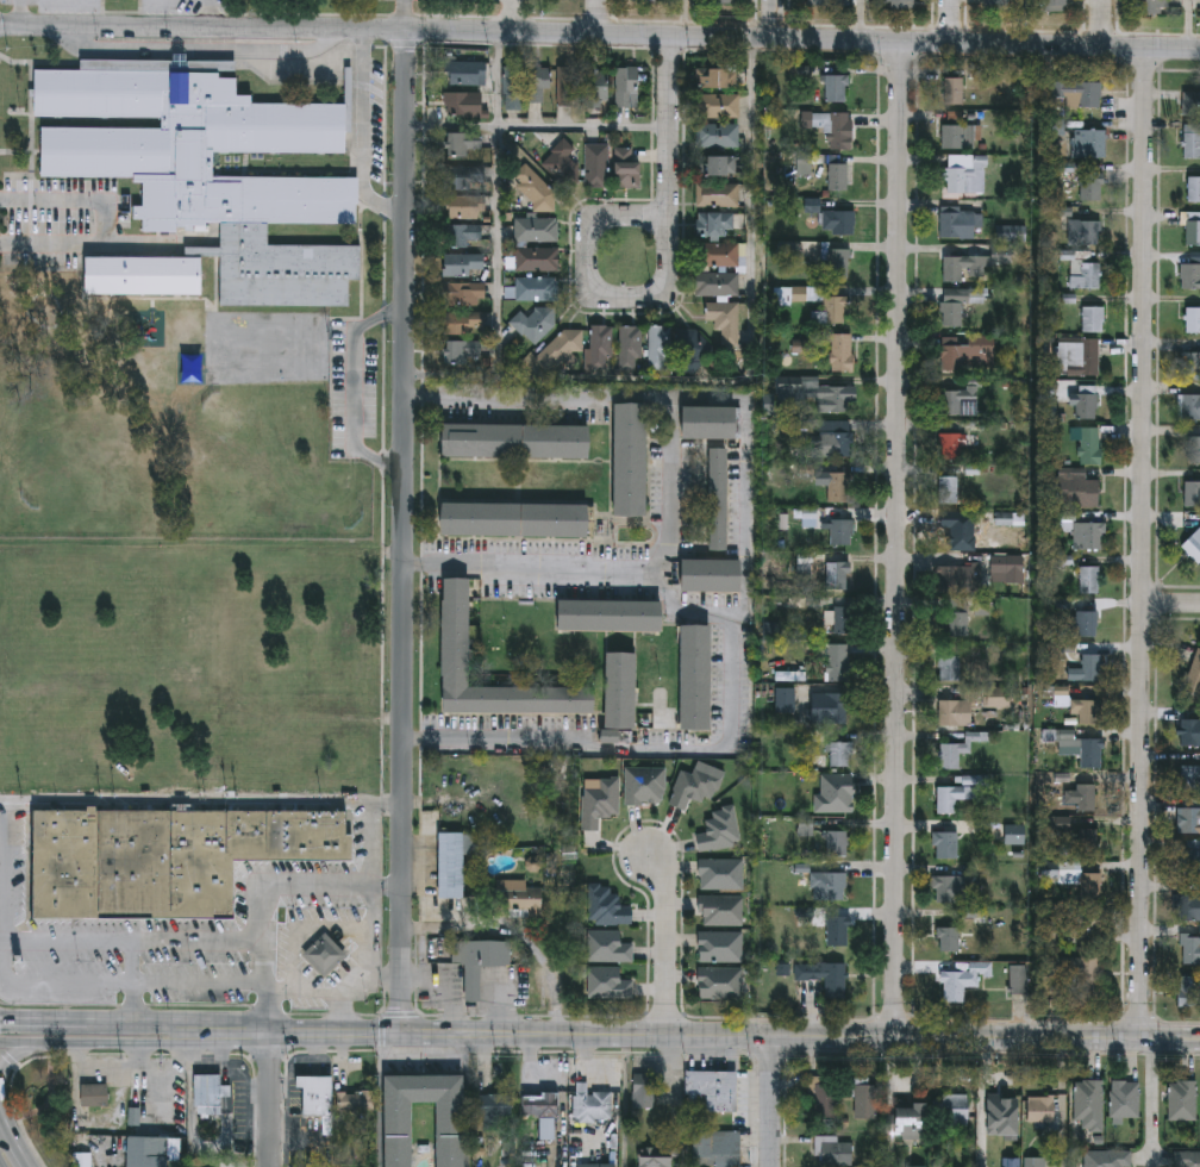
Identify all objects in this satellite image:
building: (650, 0)
building: (719, 1)
building: (821, 2)
building: (899, 2)
building: (995, 5)
building: (1054, 5)
building: (1149, 7)
road: (21, 12)
road: (405, 15)
road: (512, 17)
road: (595, 17)
road: (774, 18)
road: (861, 19)
road: (952, 20)
road: (1102, 23)
road: (1188, 24)
road: (600, 35)
building: (289, 69)
building: (467, 73)
building: (714, 77)
building: (538, 82)
building: (625, 85)
building: (567, 86)
building: (512, 87)
building: (598, 87)
building: (838, 88)
building: (955, 91)
building: (1080, 93)
building: (465, 105)
building: (719, 105)
building: (1190, 105)
road: (538, 127)
building: (835, 129)
road: (363, 136)
building: (962, 137)
building: (1192, 141)
building: (462, 143)
building: (1090, 144)
building: (598, 166)
building: (720, 166)
building: (626, 168)
building: (968, 174)
building: (839, 176)
building: (204, 177)
building: (468, 177)
building: (1093, 187)
building: (1194, 189)
building: (718, 194)
building: (464, 207)
road: (496, 212)
building: (839, 221)
road: (107, 224)
building: (717, 224)
building: (961, 224)
building: (537, 229)
building: (1192, 229)
building: (1086, 233)
building: (463, 235)
building: (717, 254)
building: (537, 258)
building: (839, 263)
building: (464, 264)
building: (975, 264)
road: (667, 270)
building: (1088, 276)
building: (1190, 276)
building: (715, 283)
building: (536, 288)
building: (465, 293)
building: (960, 305)
building: (832, 306)
building: (1094, 319)
building: (1193, 319)
building: (463, 322)
building: (725, 322)
building: (536, 323)
building: (692, 345)
building: (602, 348)
building: (631, 348)
building: (660, 348)
building: (463, 352)
building: (843, 352)
building: (969, 355)
building: (1083, 357)
building: (1190, 364)
road: (748, 377)
road: (354, 392)
building: (836, 398)
building: (960, 400)
building: (1088, 404)
building: (1189, 408)
building: (711, 425)
building: (835, 437)
building: (515, 443)
building: (1092, 447)
building: (952, 448)
building: (1194, 451)
building: (630, 461)
road: (745, 472)
building: (839, 487)
building: (949, 491)
building: (1080, 491)
building: (1192, 494)
building: (718, 501)
building: (812, 519)
building: (1010, 519)
building: (515, 520)
building: (842, 531)
road: (405, 532)
building: (963, 535)
building: (1090, 535)
road: (900, 539)
road: (1144, 543)
building: (1193, 545)
road: (537, 563)
building: (1008, 568)
building: (824, 573)
building: (712, 575)
building: (1089, 578)
building: (957, 579)
road: (1171, 603)
road: (687, 611)
building: (610, 616)
building: (957, 616)
building: (839, 618)
building: (1086, 623)
building: (456, 632)
building: (837, 662)
building: (950, 667)
building: (1087, 668)
building: (1193, 676)
building: (695, 678)
building: (620, 691)
building: (1000, 695)
building: (829, 707)
building: (1088, 711)
building: (955, 712)
building: (1189, 730)
building: (958, 750)
building: (1083, 753)
building: (840, 754)
building: (1192, 776)
building: (646, 786)
building: (695, 787)
building: (836, 793)
building: (954, 795)
building: (1087, 795)
building: (600, 800)
road: (201, 805)
building: (1190, 820)
building: (1063, 825)
building: (721, 830)
building: (1014, 834)
building: (1089, 837)
building: (837, 843)
building: (946, 844)
building: (1190, 857)
building: (167, 860)
building: (450, 865)
road: (5, 873)
building: (723, 874)
building: (829, 886)
building: (1090, 886)
building: (948, 888)
road: (267, 890)
building: (517, 898)
building: (610, 906)
building: (1189, 906)
building: (723, 911)
road: (344, 922)
building: (837, 931)
road: (514, 935)
road: (665, 938)
road: (133, 940)
building: (949, 940)
building: (1190, 946)
building: (610, 947)
building: (723, 947)
building: (326, 956)
building: (480, 963)
building: (1023, 974)
building: (1085, 975)
road: (381, 978)
building: (825, 978)
road: (132, 980)
building: (962, 980)
building: (723, 982)
road: (114, 985)
building: (611, 985)
building: (1189, 991)
road: (315, 992)
road: (400, 1015)
road: (664, 1015)
road: (532, 1017)
road: (777, 1018)
road: (90, 1021)
road: (896, 1021)
road: (1020, 1021)
road: (1138, 1023)
road: (1177, 1023)
road: (290, 1034)
road: (381, 1034)
road: (800, 1037)
road: (92, 1042)
road: (965, 1053)
road: (13, 1054)
road: (567, 1054)
road: (1154, 1054)
road: (1181, 1054)
road: (770, 1059)
road: (468, 1060)
road: (232, 1071)
building: (714, 1088)
building: (208, 1092)
building: (643, 1092)
building: (95, 1093)
building: (318, 1093)
building: (864, 1098)
building: (1125, 1098)
road: (1154, 1099)
building: (1182, 1099)
road: (270, 1100)
road: (381, 1100)
road: (680, 1100)
building: (824, 1100)
building: (356, 1102)
road: (771, 1102)
building: (542, 1103)
building: (1088, 1103)
building: (494, 1105)
building: (595, 1105)
building: (1000, 1106)
road: (245, 1109)
building: (1040, 1109)
building: (954, 1110)
road: (192, 1111)
building: (907, 1121)
road: (467, 1127)
road: (4, 1128)
building: (549, 1128)
building: (450, 1135)
road: (13, 1136)
road: (258, 1136)
building: (719, 1147)
building: (833, 1150)
building: (657, 1156)
building: (1107, 1157)
building: (83, 1159)
building: (1187, 1159)
building: (1035, 1161)
building: (598, 1163)
road: (30, 1165)

